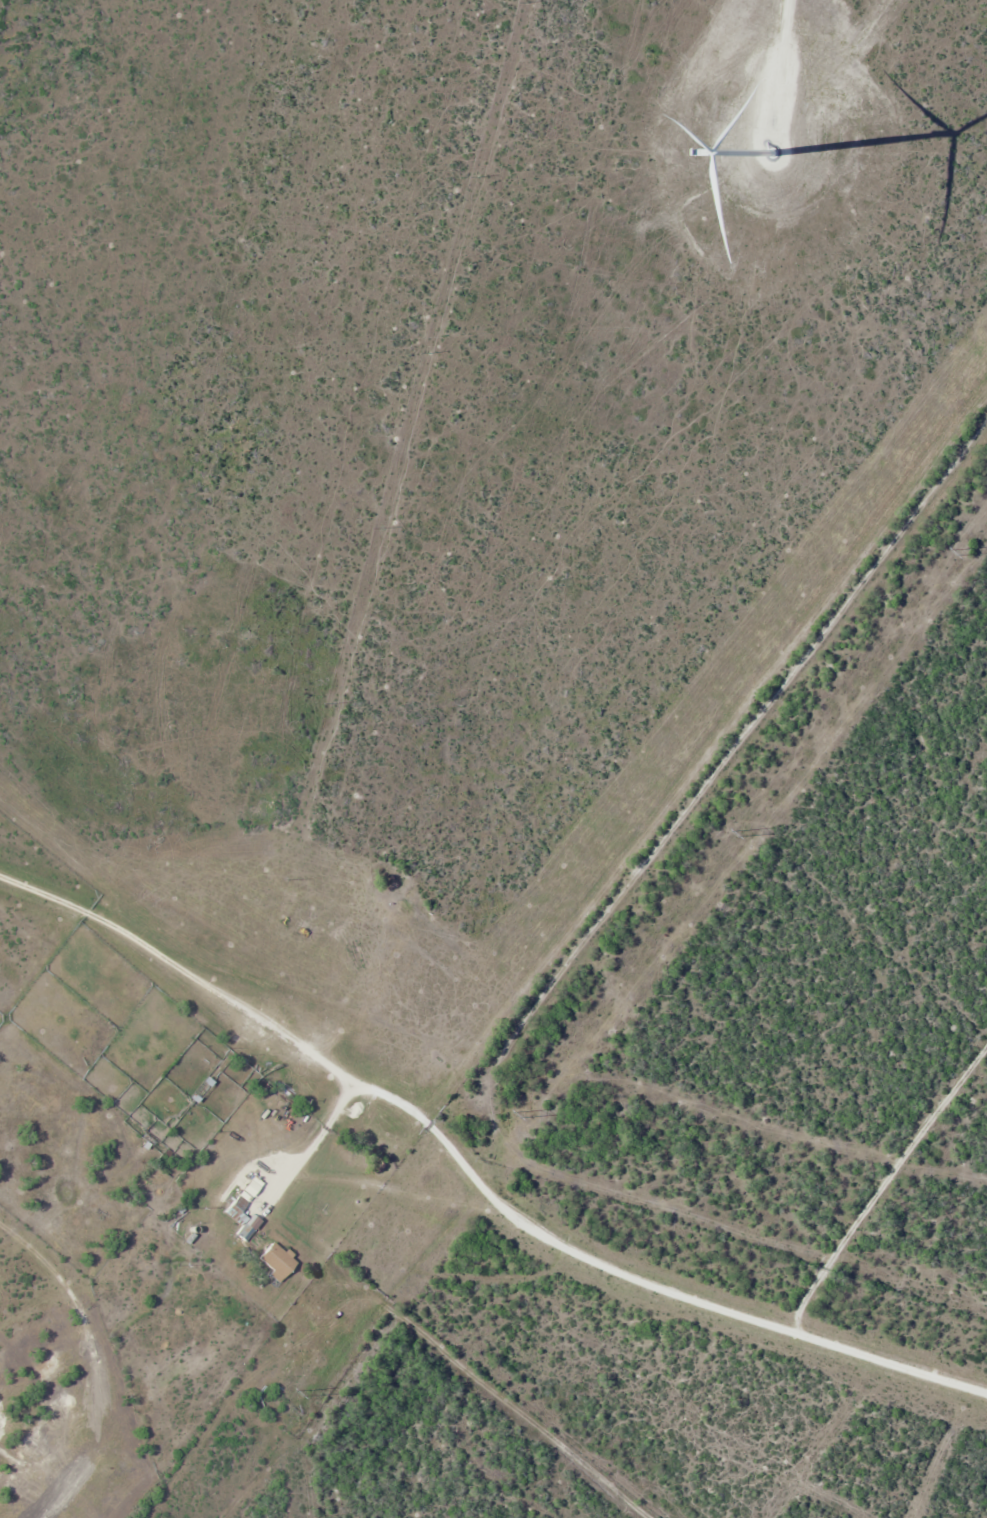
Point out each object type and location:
wind turbine: (780, 148)
power tower: (965, 551)
power tower: (747, 832)
power tower: (530, 1113)
road: (474, 1197)
building: (236, 1210)
building: (276, 1261)
building: (49, 1373)
power tower: (314, 1392)
building: (61, 1398)
building: (2, 1407)
building: (37, 1436)
building: (95, 1494)
building: (41, 1516)

